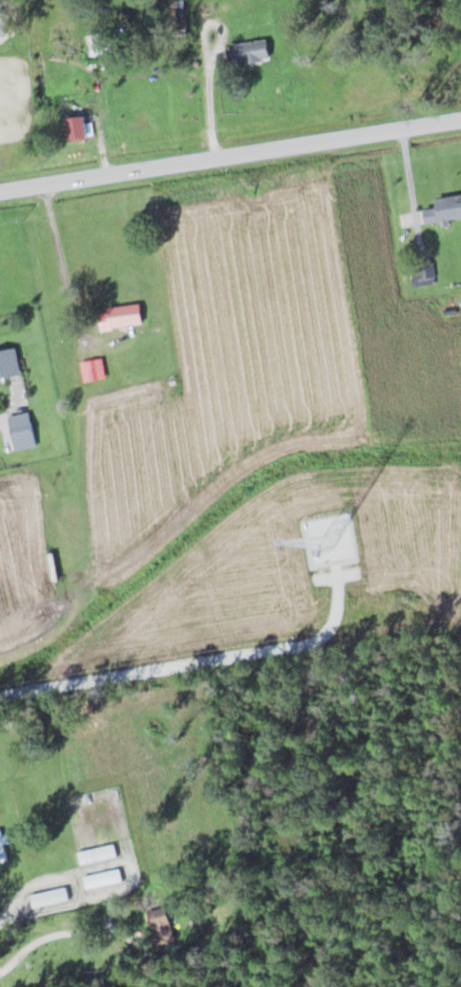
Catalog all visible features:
building: (179, 16)
building: (251, 52)
building: (77, 127)
road: (230, 138)
building: (445, 209)
building: (423, 272)
building: (119, 316)
building: (9, 362)
building: (22, 430)
building: (69, 508)
building: (83, 559)
building: (2, 845)
building: (97, 853)
building: (103, 878)
building: (49, 896)
building: (161, 925)
road: (0, 985)

